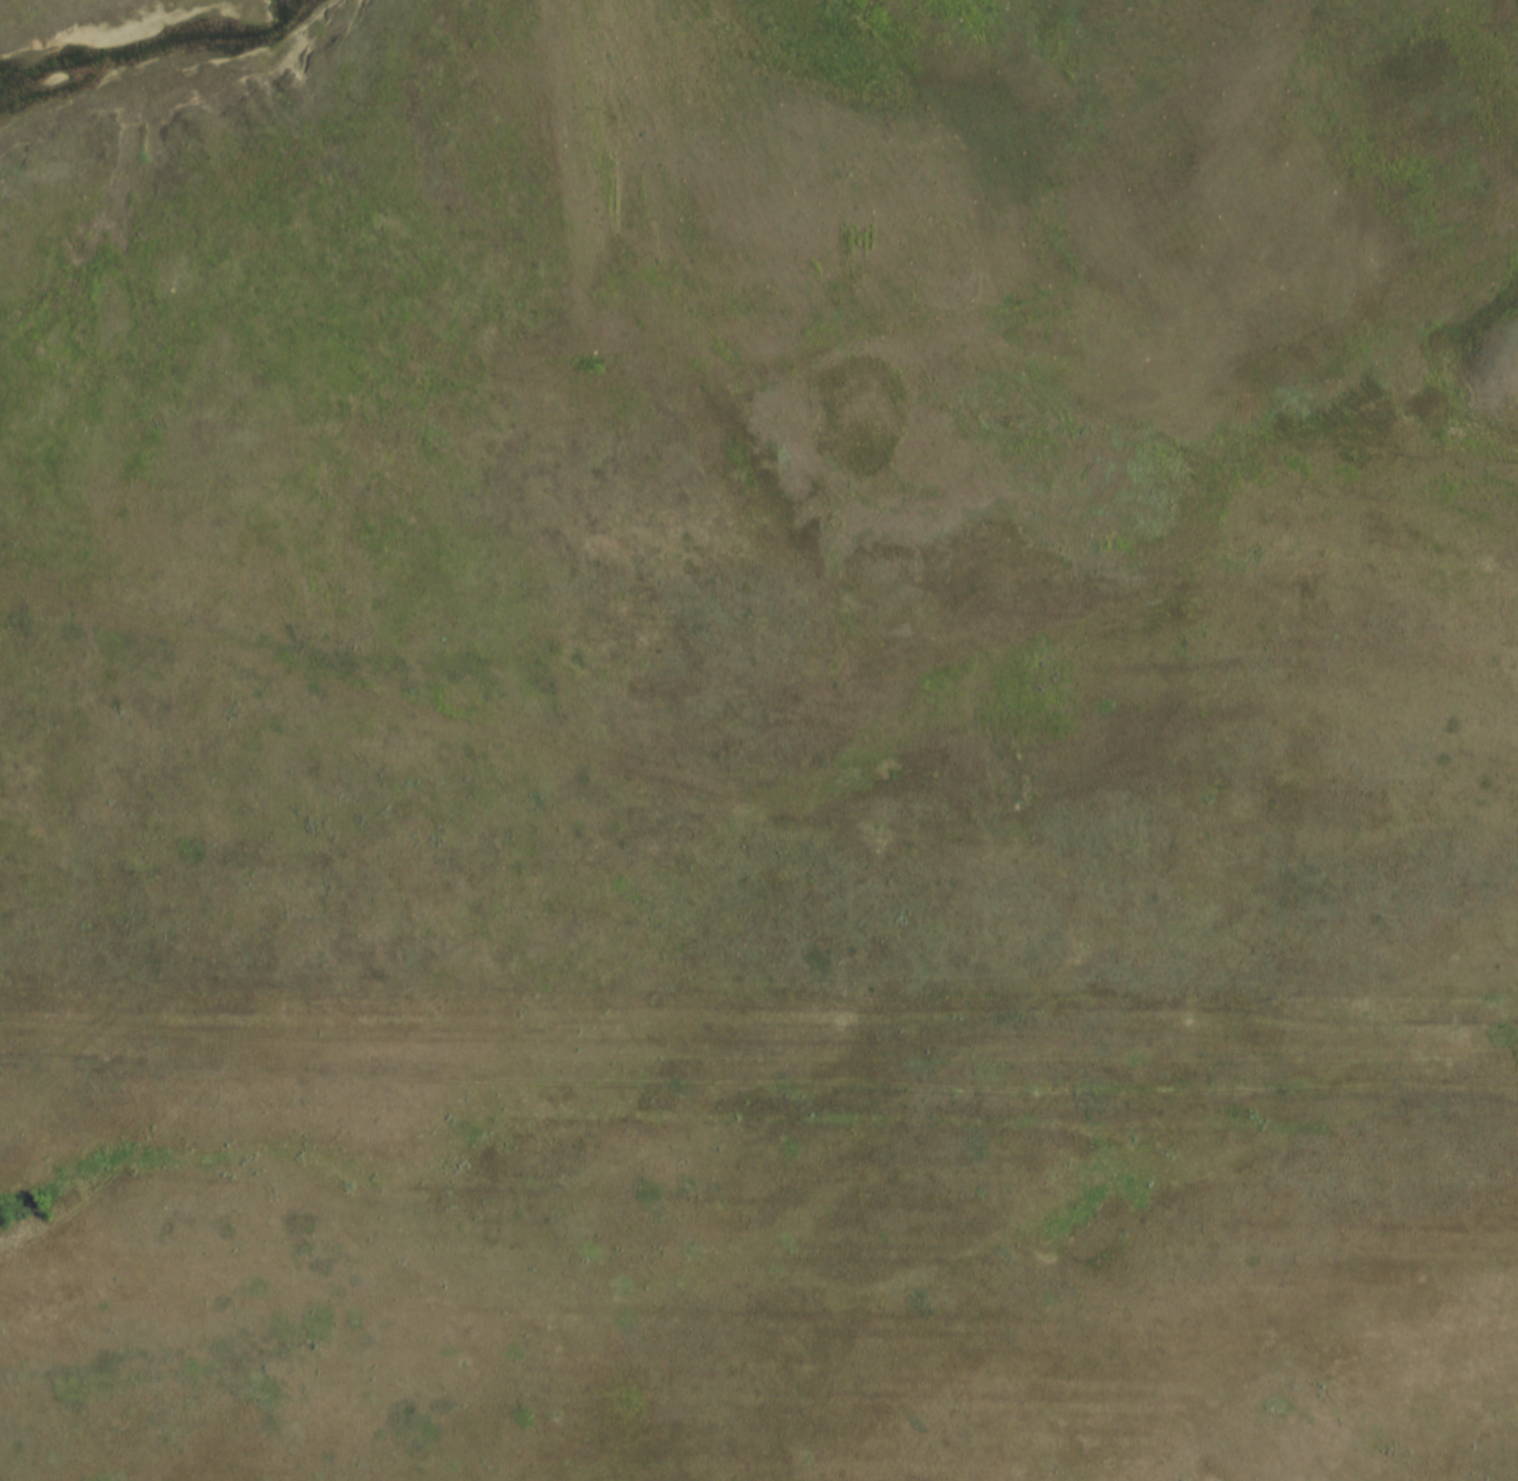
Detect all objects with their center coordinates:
road: (758, 1079)

